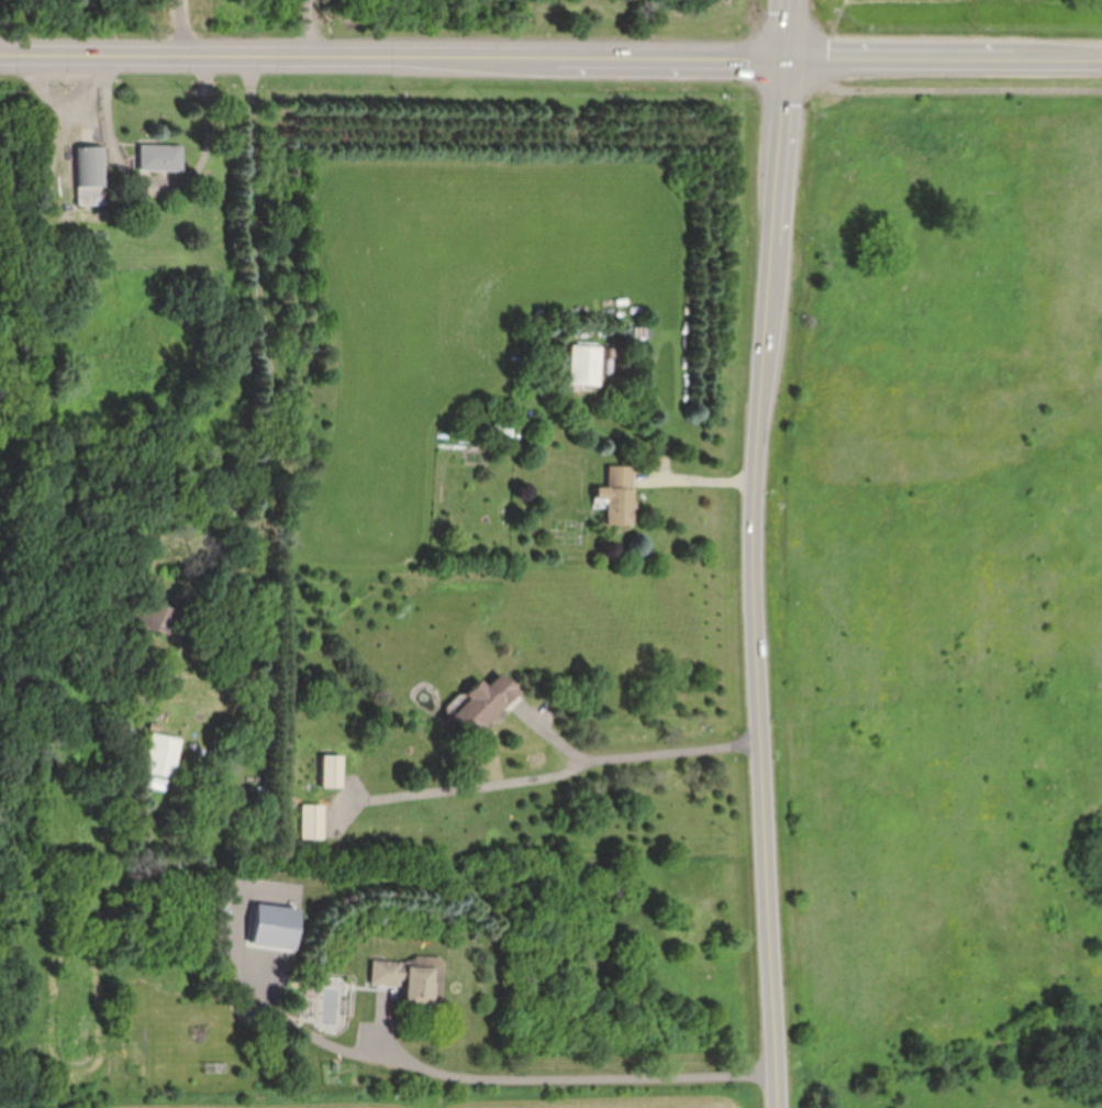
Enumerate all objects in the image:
park: (1055, 1)
road: (177, 27)
road: (312, 27)
road: (394, 56)
road: (946, 58)
road: (940, 90)
road: (63, 133)
building: (159, 157)
building: (88, 175)
road: (158, 186)
building: (583, 365)
road: (257, 451)
road: (695, 477)
building: (619, 496)
road: (756, 553)
park: (935, 580)
building: (154, 618)
building: (485, 705)
road: (636, 753)
building: (160, 755)
building: (332, 772)
road: (477, 787)
building: (312, 821)
building: (411, 980)
road: (566, 1078)

